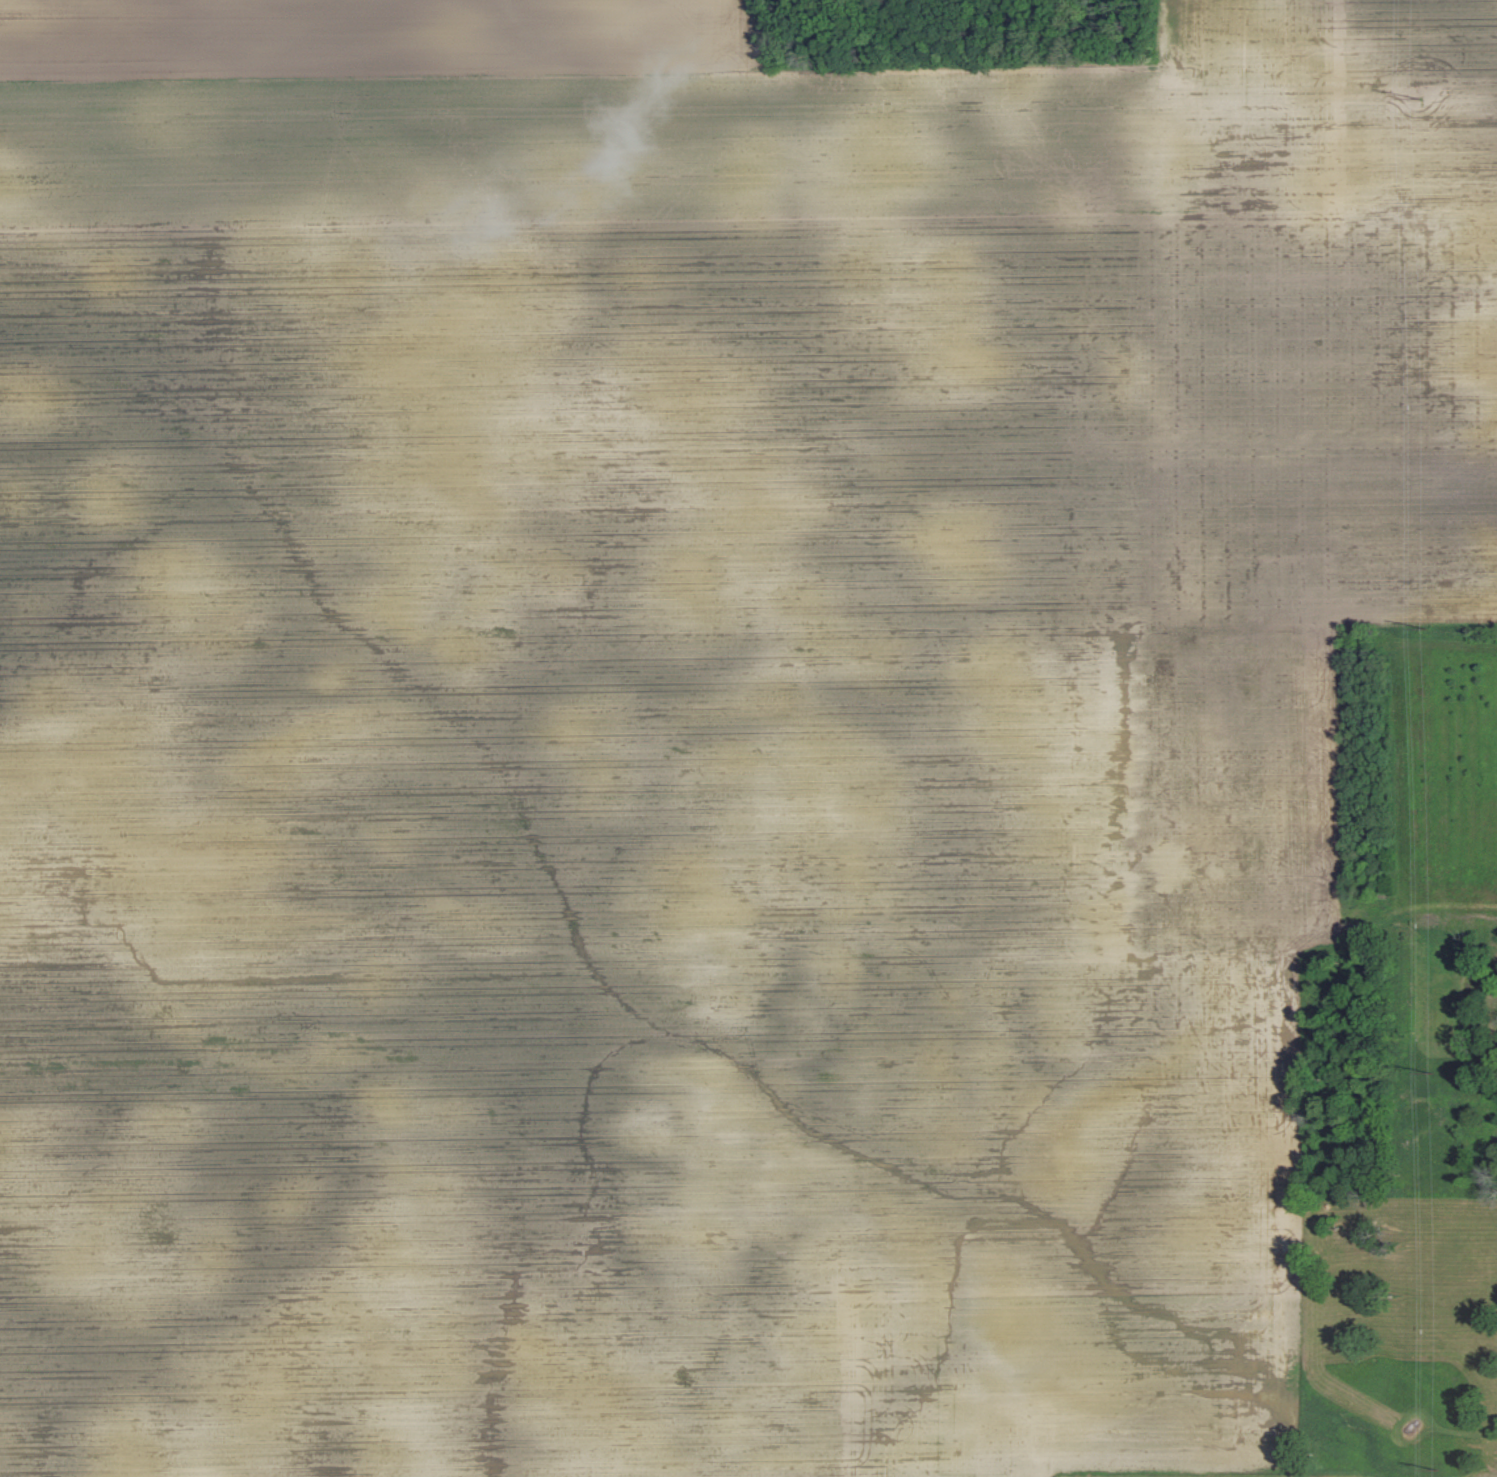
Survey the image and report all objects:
power tower: (1420, 98)
power tower: (1426, 626)
power tower: (1433, 1069)
power tower: (1438, 1469)

